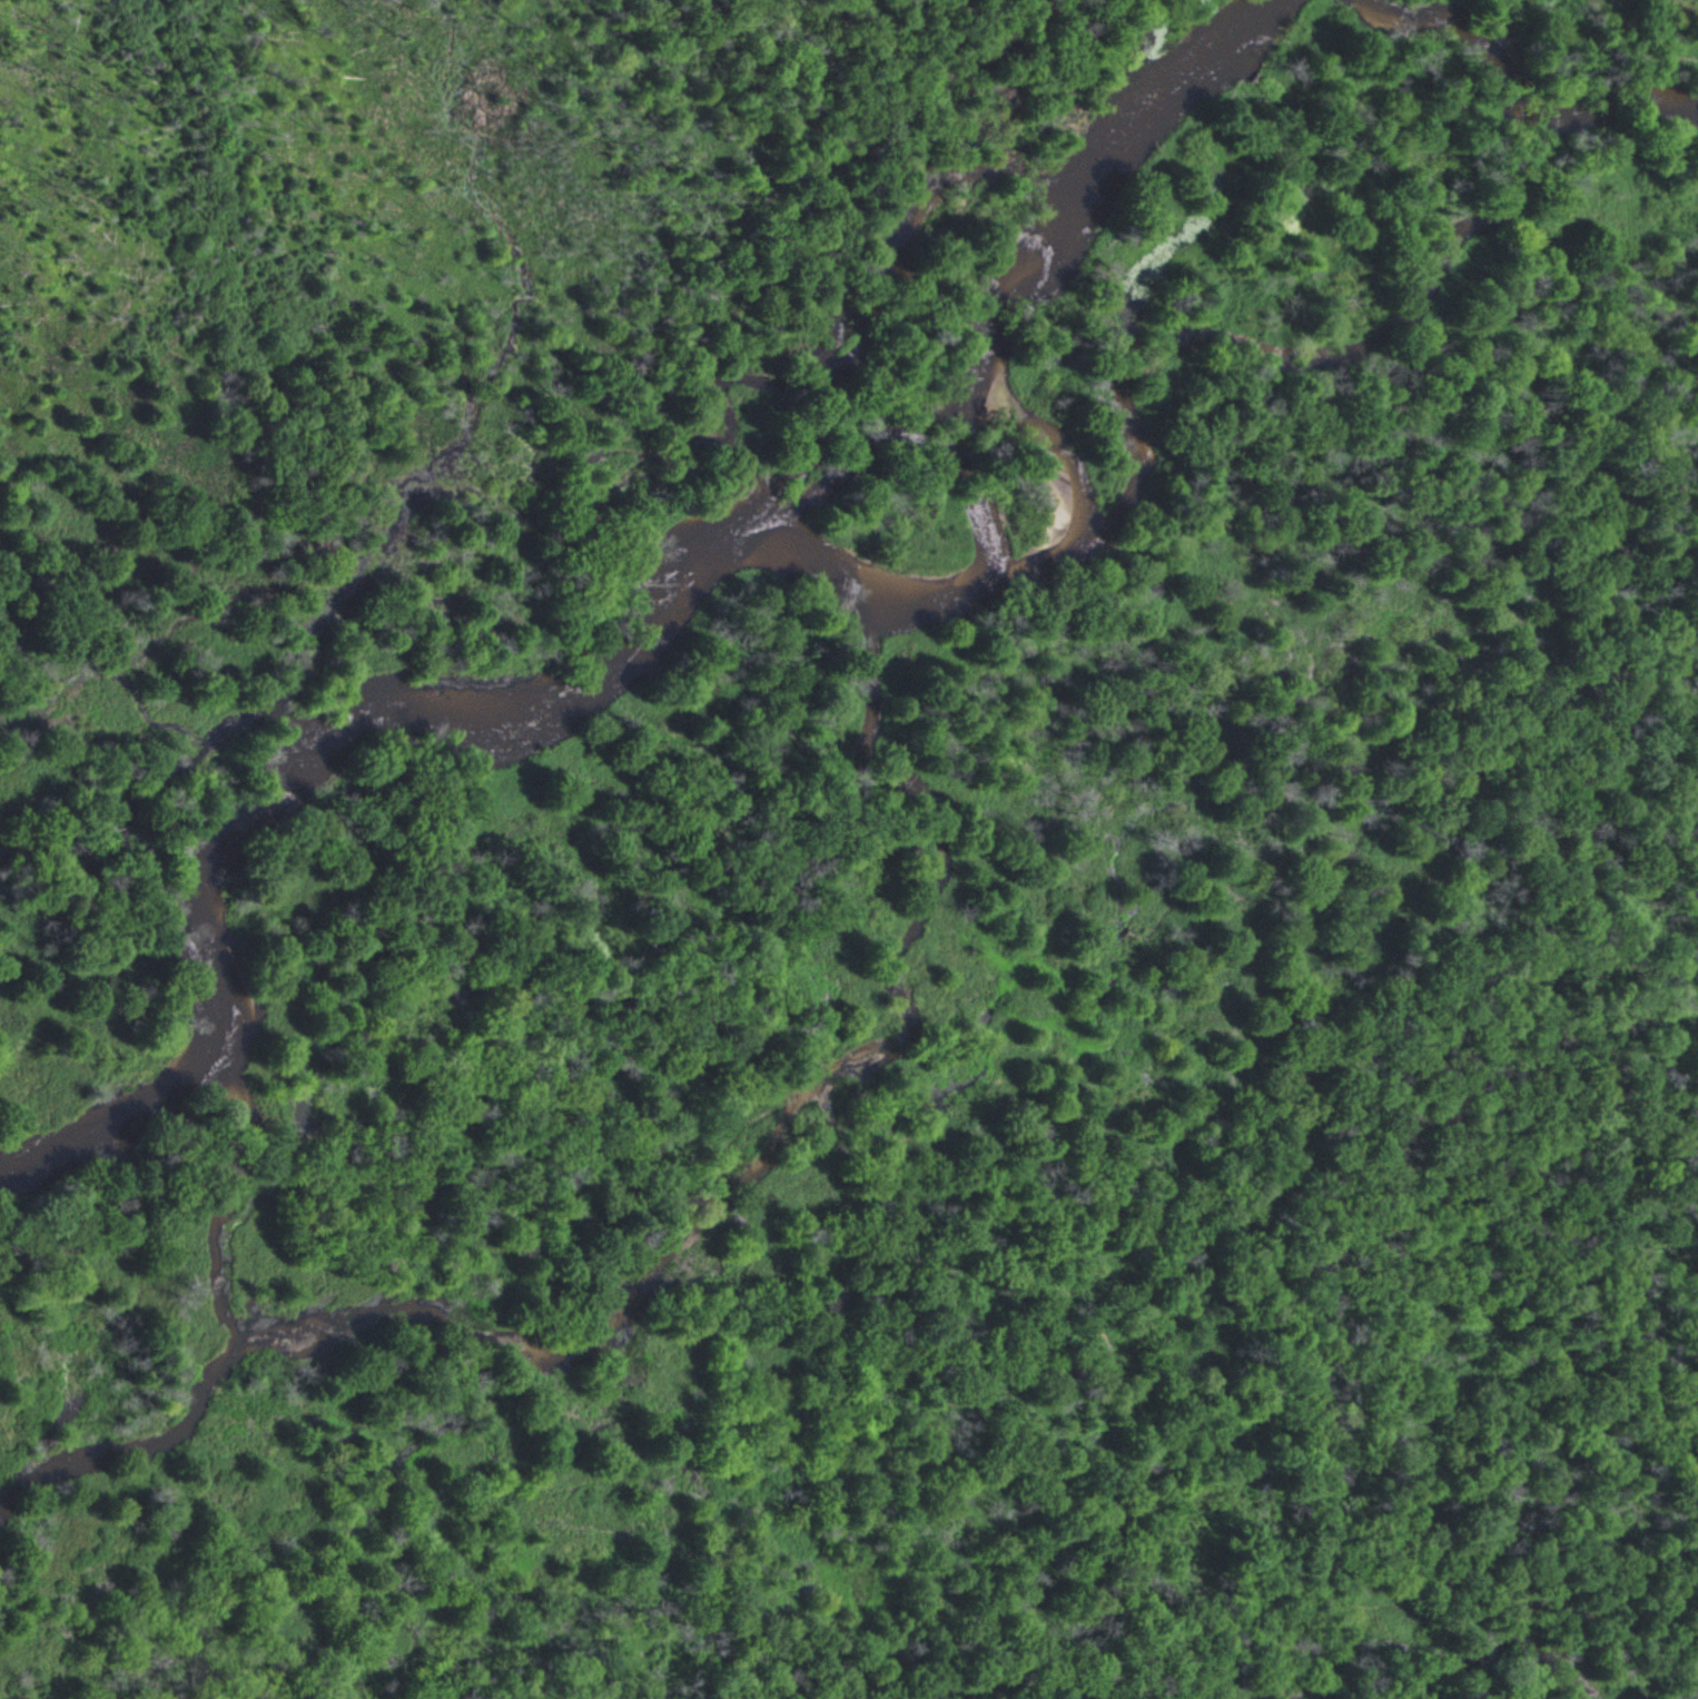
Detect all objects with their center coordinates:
river: (700, 553)

